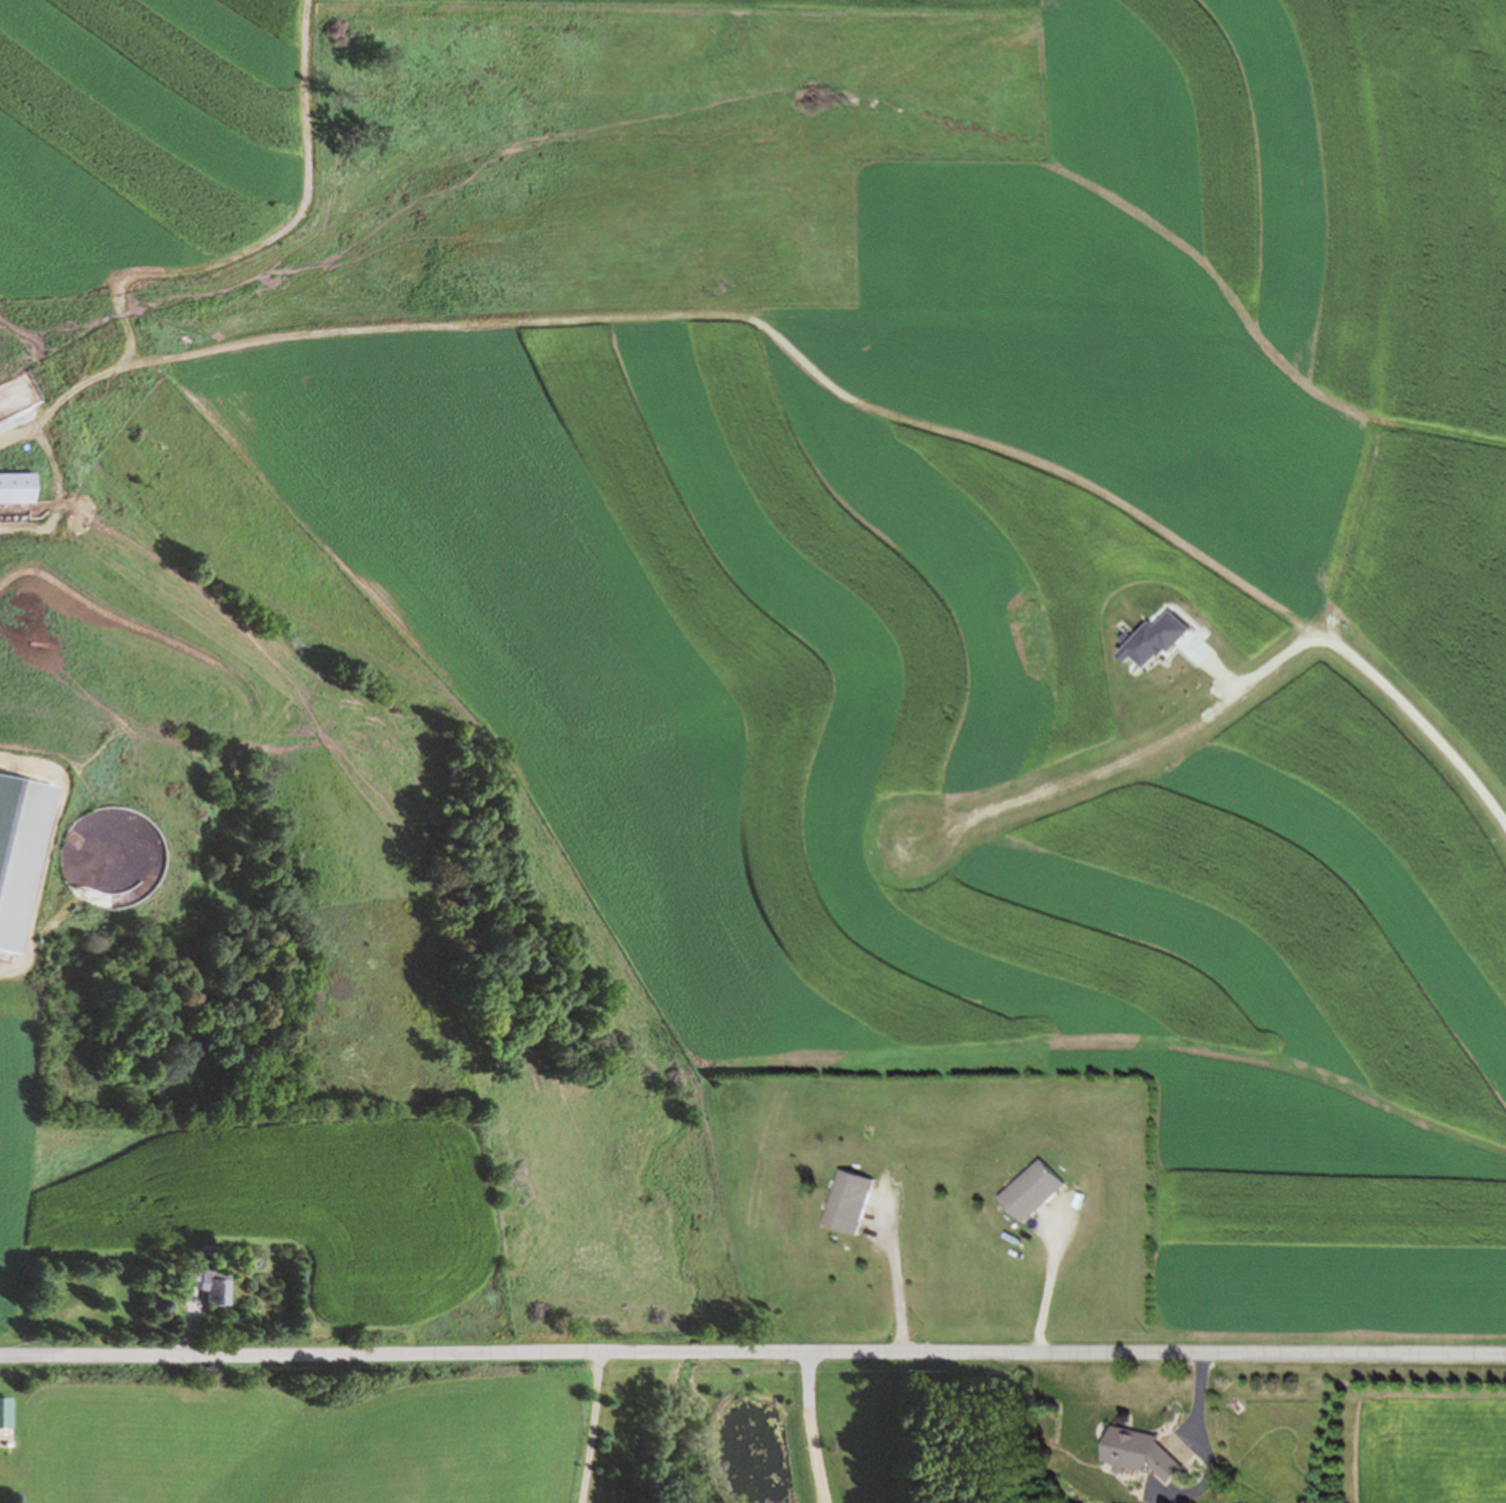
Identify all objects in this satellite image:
road: (276, 238)
road: (755, 313)
building: (17, 487)
road: (1248, 682)
building: (1039, 1191)
building: (853, 1201)
building: (205, 1277)
road: (1046, 1283)
road: (892, 1288)
road: (752, 1351)
road: (1390, 1399)
building: (4, 1411)
road: (592, 1427)
road: (811, 1427)
road: (1211, 1448)
building: (1148, 1452)

